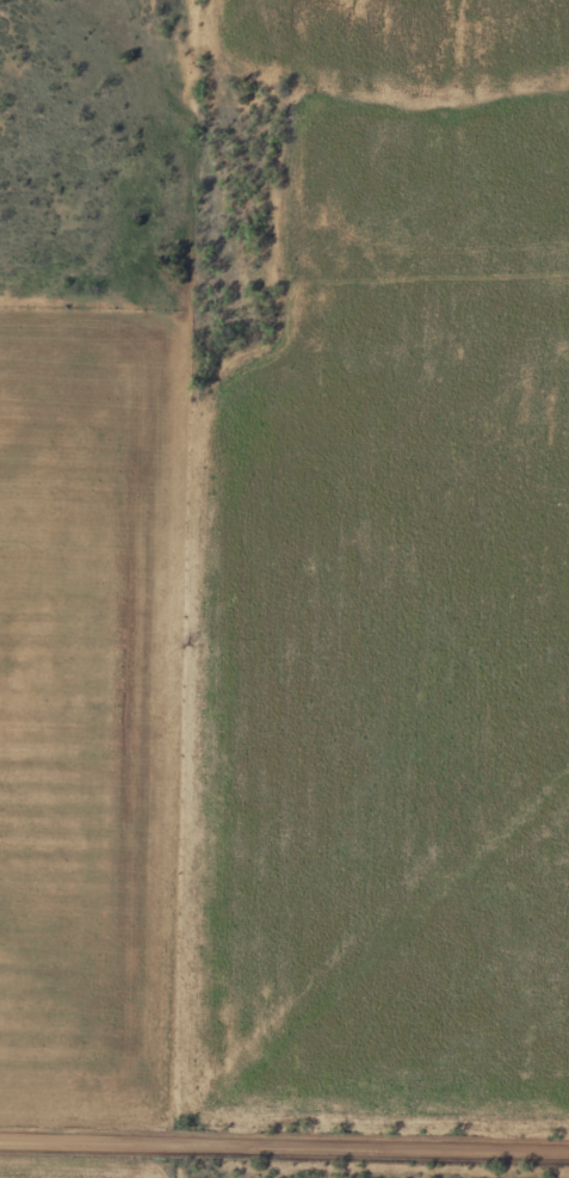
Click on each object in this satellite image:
road: (284, 1143)

